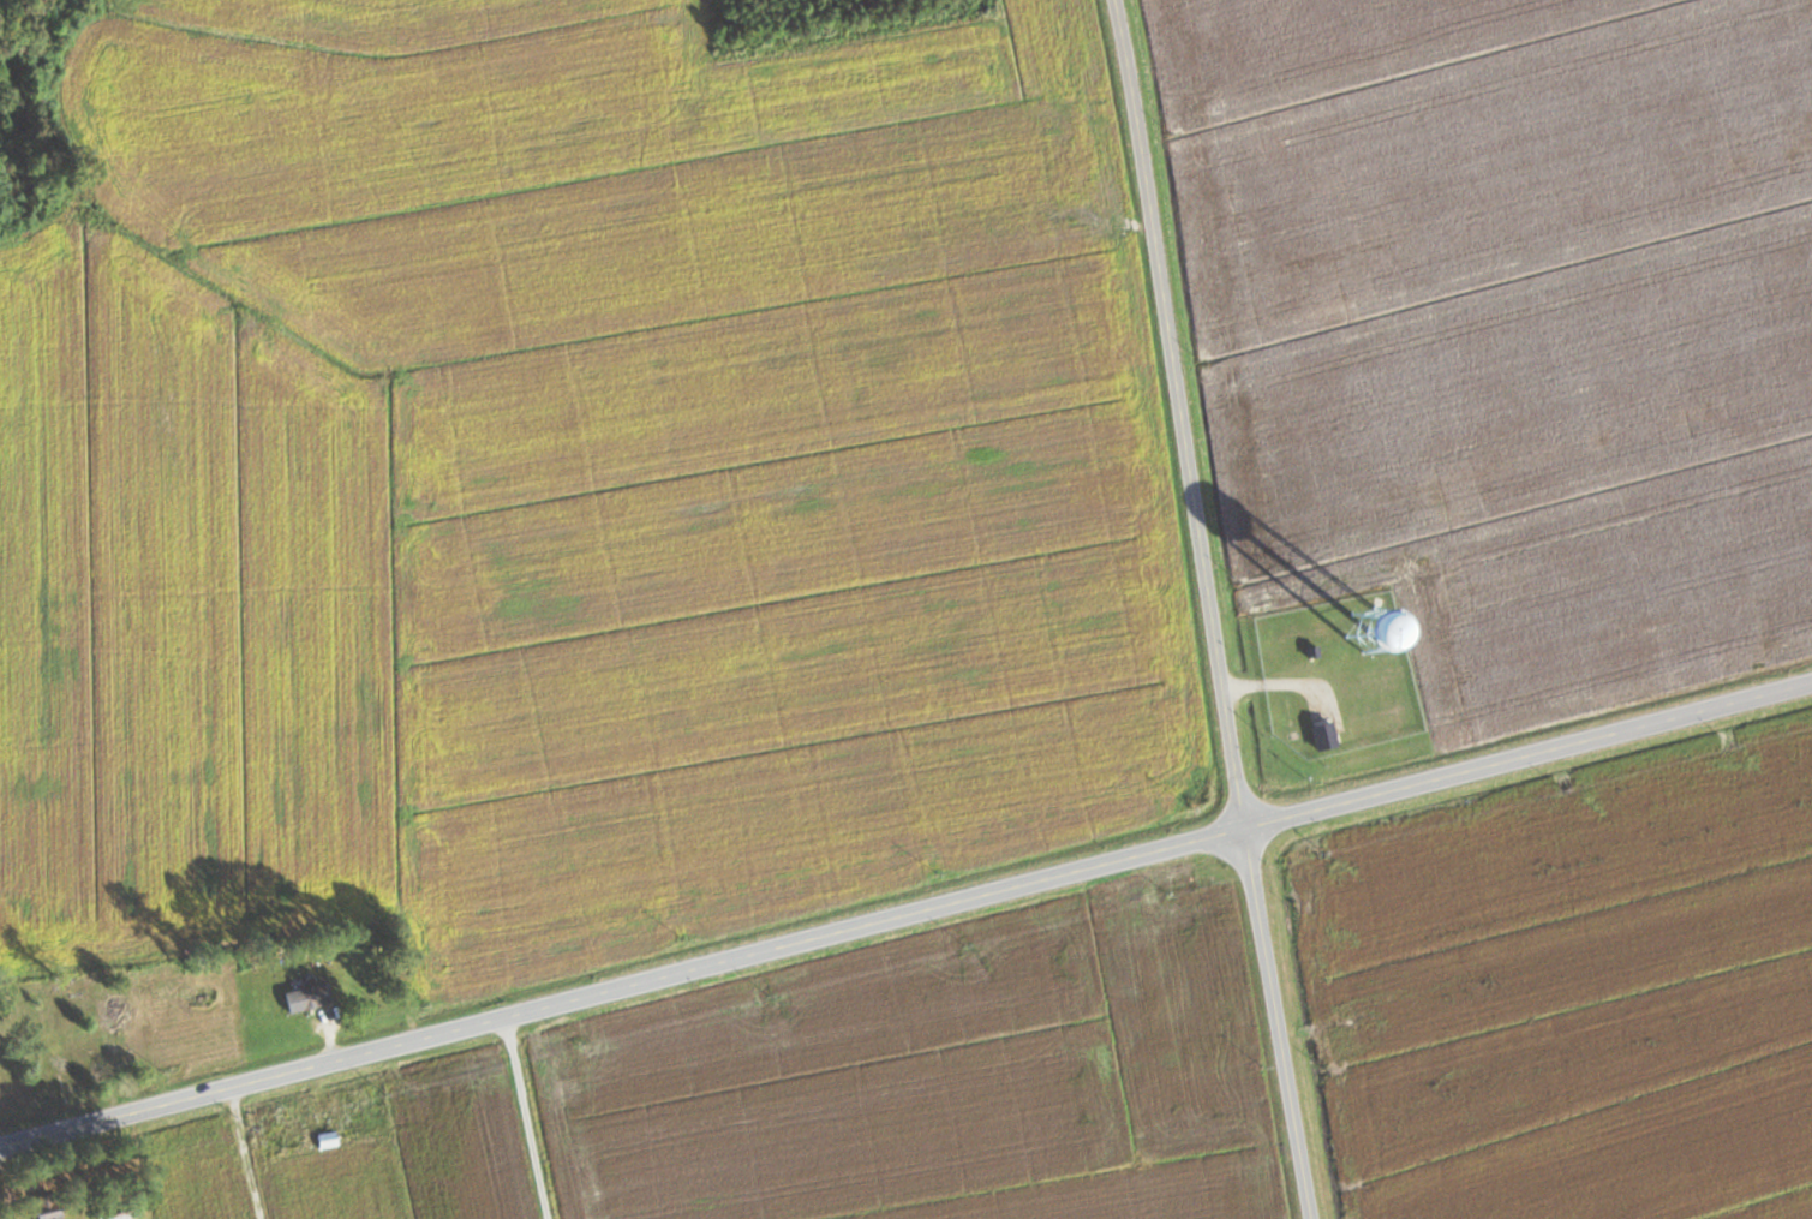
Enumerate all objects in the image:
road: (1180, 411)
building: (1351, 623)
water tower: (1364, 623)
building: (1321, 735)
road: (905, 912)
building: (305, 997)
building: (103, 1014)
building: (144, 1017)
road: (1276, 1021)
building: (52, 1053)
building: (325, 1139)
road: (241, 1154)
building: (46, 1207)

